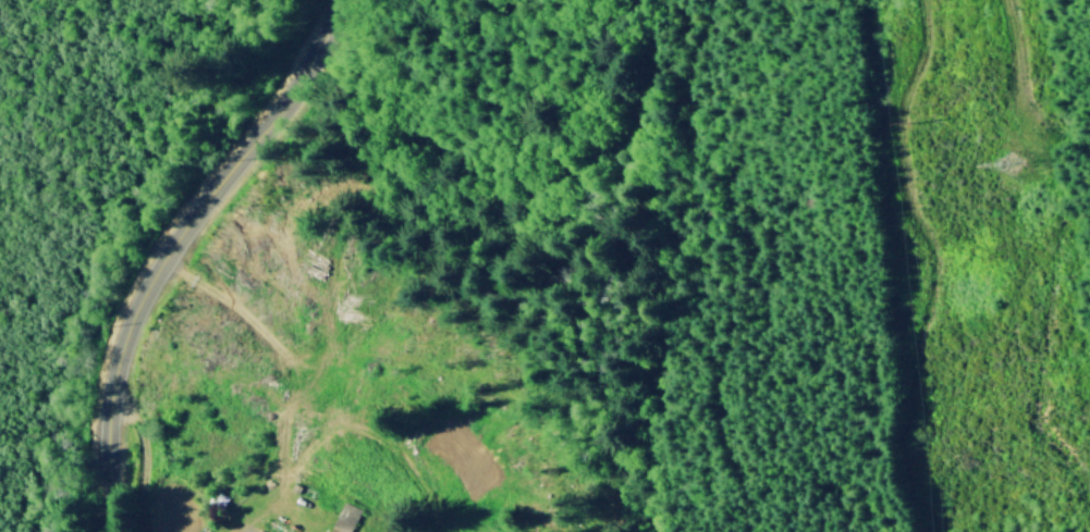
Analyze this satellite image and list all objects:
power tower: (903, 121)
power tower: (1009, 162)
road: (169, 247)

